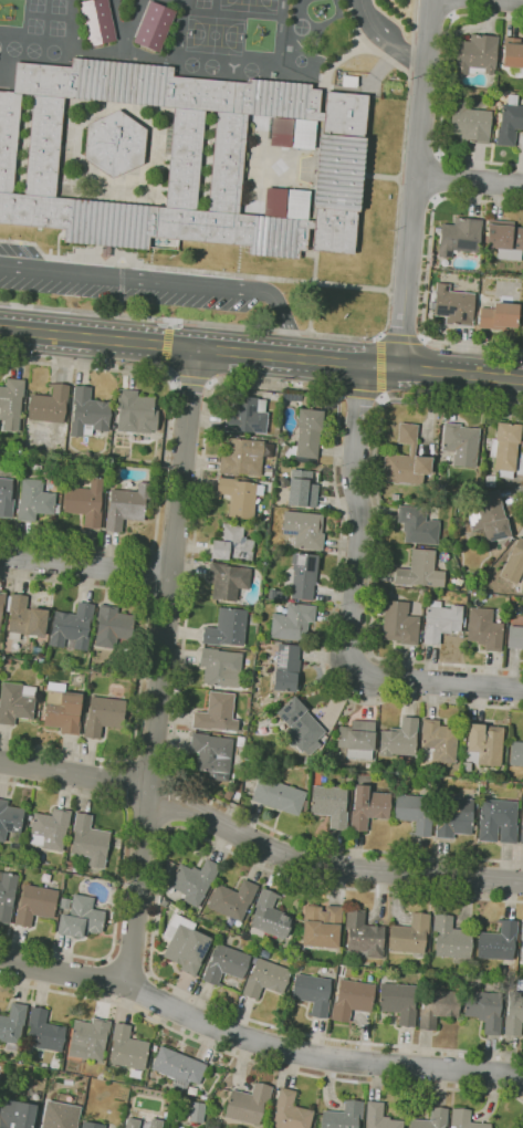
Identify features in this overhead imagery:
road: (453, 8)
road: (433, 14)
building: (97, 21)
building: (154, 25)
road: (385, 39)
building: (475, 54)
building: (513, 56)
building: (349, 81)
road: (443, 91)
building: (468, 123)
building: (509, 124)
building: (304, 134)
building: (115, 144)
road: (421, 152)
building: (184, 159)
road: (438, 177)
road: (469, 179)
road: (416, 184)
road: (417, 199)
building: (297, 203)
building: (459, 236)
building: (504, 240)
road: (427, 274)
road: (169, 281)
parking lot: (133, 285)
building: (453, 305)
building: (499, 316)
road: (404, 335)
road: (358, 337)
road: (170, 348)
road: (261, 354)
road: (380, 367)
road: (191, 380)
road: (360, 395)
building: (11, 404)
building: (49, 405)
building: (135, 412)
building: (87, 414)
building: (245, 415)
building: (308, 432)
building: (460, 443)
building: (504, 448)
road: (202, 455)
road: (164, 456)
building: (241, 458)
building: (406, 460)
building: (268, 473)
building: (302, 489)
building: (239, 497)
building: (394, 497)
building: (6, 498)
building: (33, 500)
building: (85, 502)
building: (126, 505)
road: (355, 514)
building: (488, 515)
building: (264, 520)
building: (417, 525)
building: (302, 530)
road: (380, 532)
building: (504, 543)
building: (231, 544)
road: (85, 563)
building: (513, 563)
building: (419, 570)
road: (147, 571)
building: (303, 575)
building: (484, 576)
building: (227, 581)
building: (275, 594)
building: (1, 603)
building: (23, 618)
building: (292, 622)
building: (440, 622)
building: (399, 623)
building: (111, 626)
building: (72, 627)
building: (226, 628)
building: (483, 628)
building: (514, 637)
building: (36, 651)
building: (7, 660)
road: (161, 665)
building: (220, 667)
building: (285, 668)
road: (139, 669)
road: (436, 683)
building: (15, 702)
building: (62, 709)
building: (217, 713)
building: (102, 714)
building: (300, 727)
building: (397, 739)
building: (357, 740)
building: (438, 741)
building: (240, 742)
building: (483, 744)
building: (515, 753)
building: (212, 754)
building: (466, 766)
building: (481, 783)
building: (227, 794)
building: (278, 796)
building: (330, 804)
building: (367, 807)
building: (415, 812)
building: (453, 816)
building: (496, 821)
building: (522, 821)
building: (10, 822)
building: (50, 829)
building: (521, 834)
building: (88, 840)
road: (255, 842)
building: (70, 866)
road: (122, 873)
building: (192, 881)
building: (7, 896)
building: (231, 899)
building: (64, 904)
building: (34, 905)
road: (156, 910)
building: (81, 918)
building: (269, 918)
building: (108, 921)
building: (321, 926)
building: (363, 934)
building: (409, 934)
building: (450, 939)
building: (498, 941)
building: (521, 943)
building: (186, 948)
road: (130, 961)
building: (224, 964)
building: (297, 967)
building: (264, 979)
building: (520, 984)
building: (312, 993)
building: (352, 1000)
building: (398, 1002)
building: (437, 1006)
building: (483, 1010)
building: (513, 1014)
building: (12, 1023)
building: (43, 1032)
building: (88, 1038)
road: (255, 1043)
building: (154, 1047)
building: (126, 1048)
road: (257, 1062)
building: (178, 1068)
building: (202, 1097)
building: (248, 1104)
building: (290, 1111)
building: (195, 1113)
building: (15, 1115)
building: (60, 1116)
building: (343, 1116)
building: (379, 1117)
building: (270, 1118)
building: (431, 1119)
building: (463, 1119)
building: (132, 1124)
building: (155, 1124)
building: (90, 1126)

